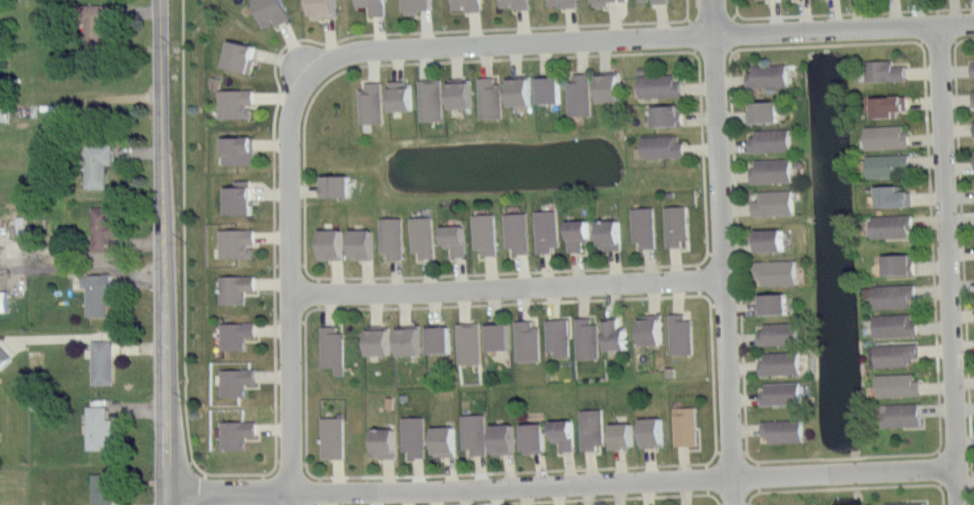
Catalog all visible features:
building: (607, 0)
building: (597, 1)
building: (656, 1)
building: (561, 2)
building: (512, 3)
building: (463, 4)
building: (412, 5)
building: (371, 6)
building: (319, 8)
building: (267, 11)
road: (848, 12)
building: (95, 23)
road: (638, 37)
building: (237, 53)
building: (881, 68)
building: (973, 68)
building: (764, 73)
building: (655, 83)
building: (606, 85)
building: (544, 87)
building: (515, 88)
road: (700, 88)
building: (457, 92)
building: (576, 93)
building: (396, 94)
building: (486, 96)
road: (100, 97)
building: (973, 97)
building: (427, 98)
building: (233, 101)
building: (367, 102)
building: (883, 103)
building: (760, 109)
building: (3, 112)
building: (662, 113)
building: (883, 135)
building: (767, 138)
building: (659, 144)
building: (236, 147)
building: (883, 163)
building: (98, 164)
building: (768, 168)
building: (331, 184)
building: (888, 194)
building: (236, 198)
building: (770, 201)
building: (673, 223)
building: (888, 223)
building: (640, 225)
building: (104, 228)
building: (542, 228)
building: (513, 229)
building: (482, 231)
building: (573, 232)
building: (606, 232)
building: (420, 234)
building: (388, 235)
building: (451, 237)
building: (766, 238)
building: (234, 240)
building: (327, 242)
building: (358, 242)
road: (163, 252)
road: (719, 252)
road: (84, 253)
road: (963, 262)
building: (894, 263)
road: (947, 265)
road: (83, 266)
building: (773, 269)
road: (289, 283)
road: (504, 284)
building: (233, 285)
building: (890, 293)
building: (97, 294)
building: (4, 301)
building: (770, 302)
road: (274, 316)
building: (892, 323)
building: (647, 327)
building: (233, 331)
building: (611, 331)
building: (677, 332)
building: (777, 332)
building: (494, 333)
building: (554, 334)
building: (435, 336)
building: (583, 336)
building: (374, 338)
building: (405, 338)
building: (523, 338)
building: (465, 342)
building: (329, 346)
building: (892, 353)
building: (4, 357)
building: (102, 361)
building: (778, 362)
building: (233, 380)
building: (895, 383)
building: (779, 392)
building: (896, 413)
road: (939, 423)
building: (682, 424)
building: (99, 426)
building: (588, 426)
building: (780, 428)
building: (649, 430)
building: (470, 431)
building: (233, 432)
building: (561, 432)
building: (410, 434)
building: (619, 434)
building: (330, 435)
building: (530, 436)
building: (499, 438)
building: (440, 439)
building: (381, 441)
road: (708, 461)
road: (560, 481)
road: (850, 486)
building: (103, 488)
road: (580, 498)
building: (903, 502)

